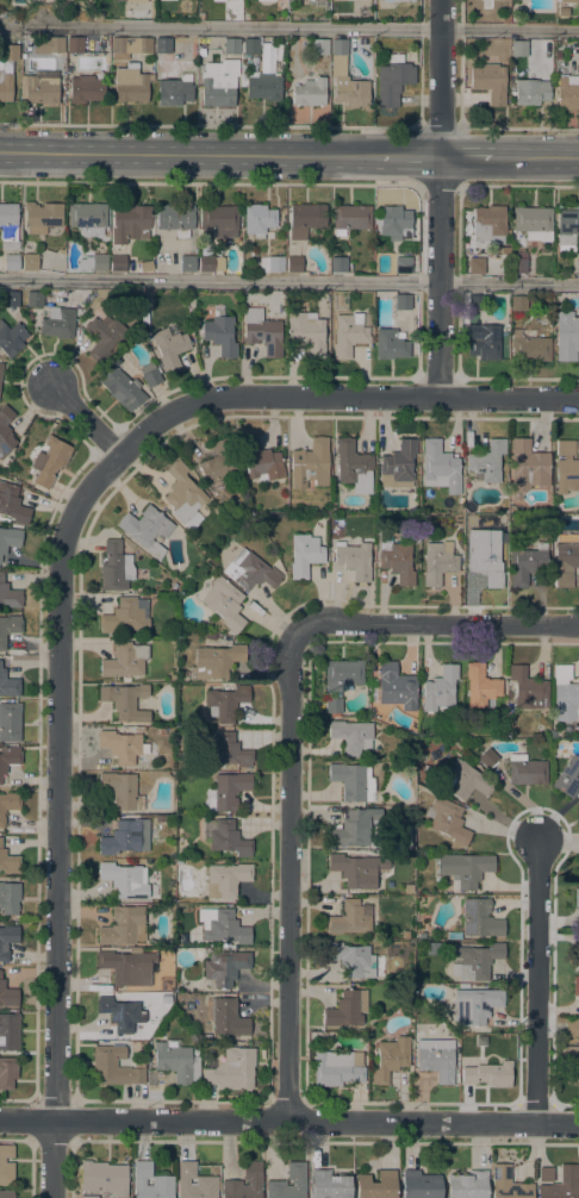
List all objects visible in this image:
building: (119, 0)
building: (172, 0)
building: (218, 0)
building: (264, 0)
building: (396, 0)
building: (567, 2)
road: (309, 29)
building: (48, 44)
building: (74, 45)
building: (162, 45)
building: (130, 46)
building: (231, 46)
building: (250, 46)
building: (319, 46)
building: (518, 48)
building: (200, 51)
building: (558, 55)
building: (6, 70)
building: (345, 77)
building: (393, 80)
building: (218, 82)
building: (490, 82)
building: (130, 85)
building: (263, 87)
building: (85, 89)
building: (174, 91)
building: (39, 92)
building: (530, 92)
building: (568, 92)
building: (309, 93)
road: (210, 126)
road: (518, 127)
road: (440, 129)
road: (188, 154)
road: (407, 157)
road: (466, 157)
road: (536, 157)
road: (210, 181)
road: (438, 183)
road: (518, 185)
road: (440, 198)
building: (42, 217)
building: (87, 218)
building: (175, 218)
building: (350, 218)
building: (305, 219)
building: (259, 220)
building: (218, 221)
building: (130, 223)
building: (394, 223)
building: (534, 223)
building: (487, 224)
building: (8, 225)
building: (567, 230)
building: (208, 258)
building: (11, 262)
building: (29, 262)
building: (93, 263)
building: (118, 263)
building: (187, 263)
building: (272, 263)
building: (518, 263)
building: (294, 264)
building: (338, 264)
building: (403, 266)
building: (475, 266)
building: (145, 267)
road: (288, 282)
building: (10, 299)
building: (33, 299)
building: (403, 302)
building: (475, 302)
building: (518, 304)
building: (58, 323)
building: (262, 332)
building: (307, 332)
building: (350, 333)
building: (219, 335)
building: (104, 336)
building: (566, 336)
building: (11, 339)
building: (484, 343)
building: (390, 344)
building: (529, 347)
building: (169, 349)
building: (1, 369)
building: (150, 375)
building: (122, 388)
road: (270, 398)
road: (509, 398)
building: (5, 430)
building: (565, 448)
building: (49, 461)
building: (261, 461)
building: (486, 461)
building: (218, 462)
building: (310, 464)
building: (354, 466)
building: (398, 466)
building: (440, 467)
building: (527, 468)
building: (567, 475)
building: (182, 493)
building: (12, 504)
building: (425, 518)
building: (147, 530)
building: (8, 538)
building: (415, 539)
building: (472, 543)
building: (305, 555)
building: (504, 559)
building: (353, 560)
building: (486, 560)
building: (397, 562)
building: (437, 562)
building: (527, 563)
building: (566, 563)
building: (116, 567)
building: (250, 570)
building: (8, 594)
building: (224, 603)
building: (126, 616)
building: (8, 628)
road: (435, 629)
building: (211, 636)
building: (124, 660)
building: (216, 661)
building: (342, 674)
building: (8, 685)
building: (480, 686)
building: (396, 687)
building: (440, 690)
building: (528, 690)
building: (565, 695)
building: (125, 701)
building: (225, 703)
building: (332, 705)
building: (10, 722)
building: (162, 731)
building: (554, 734)
building: (351, 736)
building: (122, 745)
building: (228, 750)
building: (8, 759)
building: (487, 759)
road: (60, 768)
building: (525, 770)
building: (568, 778)
building: (353, 781)
building: (466, 781)
building: (122, 791)
building: (228, 791)
building: (8, 804)
building: (160, 818)
building: (447, 820)
building: (357, 829)
building: (225, 837)
building: (123, 838)
building: (427, 854)
building: (8, 862)
building: (463, 869)
building: (354, 871)
road: (291, 875)
building: (225, 880)
building: (124, 881)
building: (10, 898)
building: (577, 898)
building: (350, 918)
building: (480, 919)
building: (222, 925)
building: (124, 926)
building: (453, 935)
building: (7, 941)
building: (135, 950)
building: (351, 959)
building: (475, 961)
building: (575, 961)
building: (127, 967)
building: (225, 967)
road: (540, 981)
building: (575, 986)
building: (7, 994)
building: (474, 1005)
building: (345, 1010)
building: (119, 1012)
building: (229, 1017)
building: (572, 1028)
building: (8, 1031)
building: (390, 1059)
building: (436, 1059)
building: (176, 1062)
building: (571, 1062)
building: (113, 1067)
building: (337, 1068)
building: (231, 1069)
building: (7, 1073)
building: (487, 1074)
road: (289, 1121)
building: (6, 1165)
building: (546, 1174)
building: (102, 1180)
building: (254, 1180)
building: (298, 1180)
building: (162, 1183)
building: (194, 1183)
building: (508, 1184)
building: (562, 1184)
building: (328, 1185)
building: (375, 1185)
building: (421, 1185)
building: (467, 1185)
building: (6, 1194)

